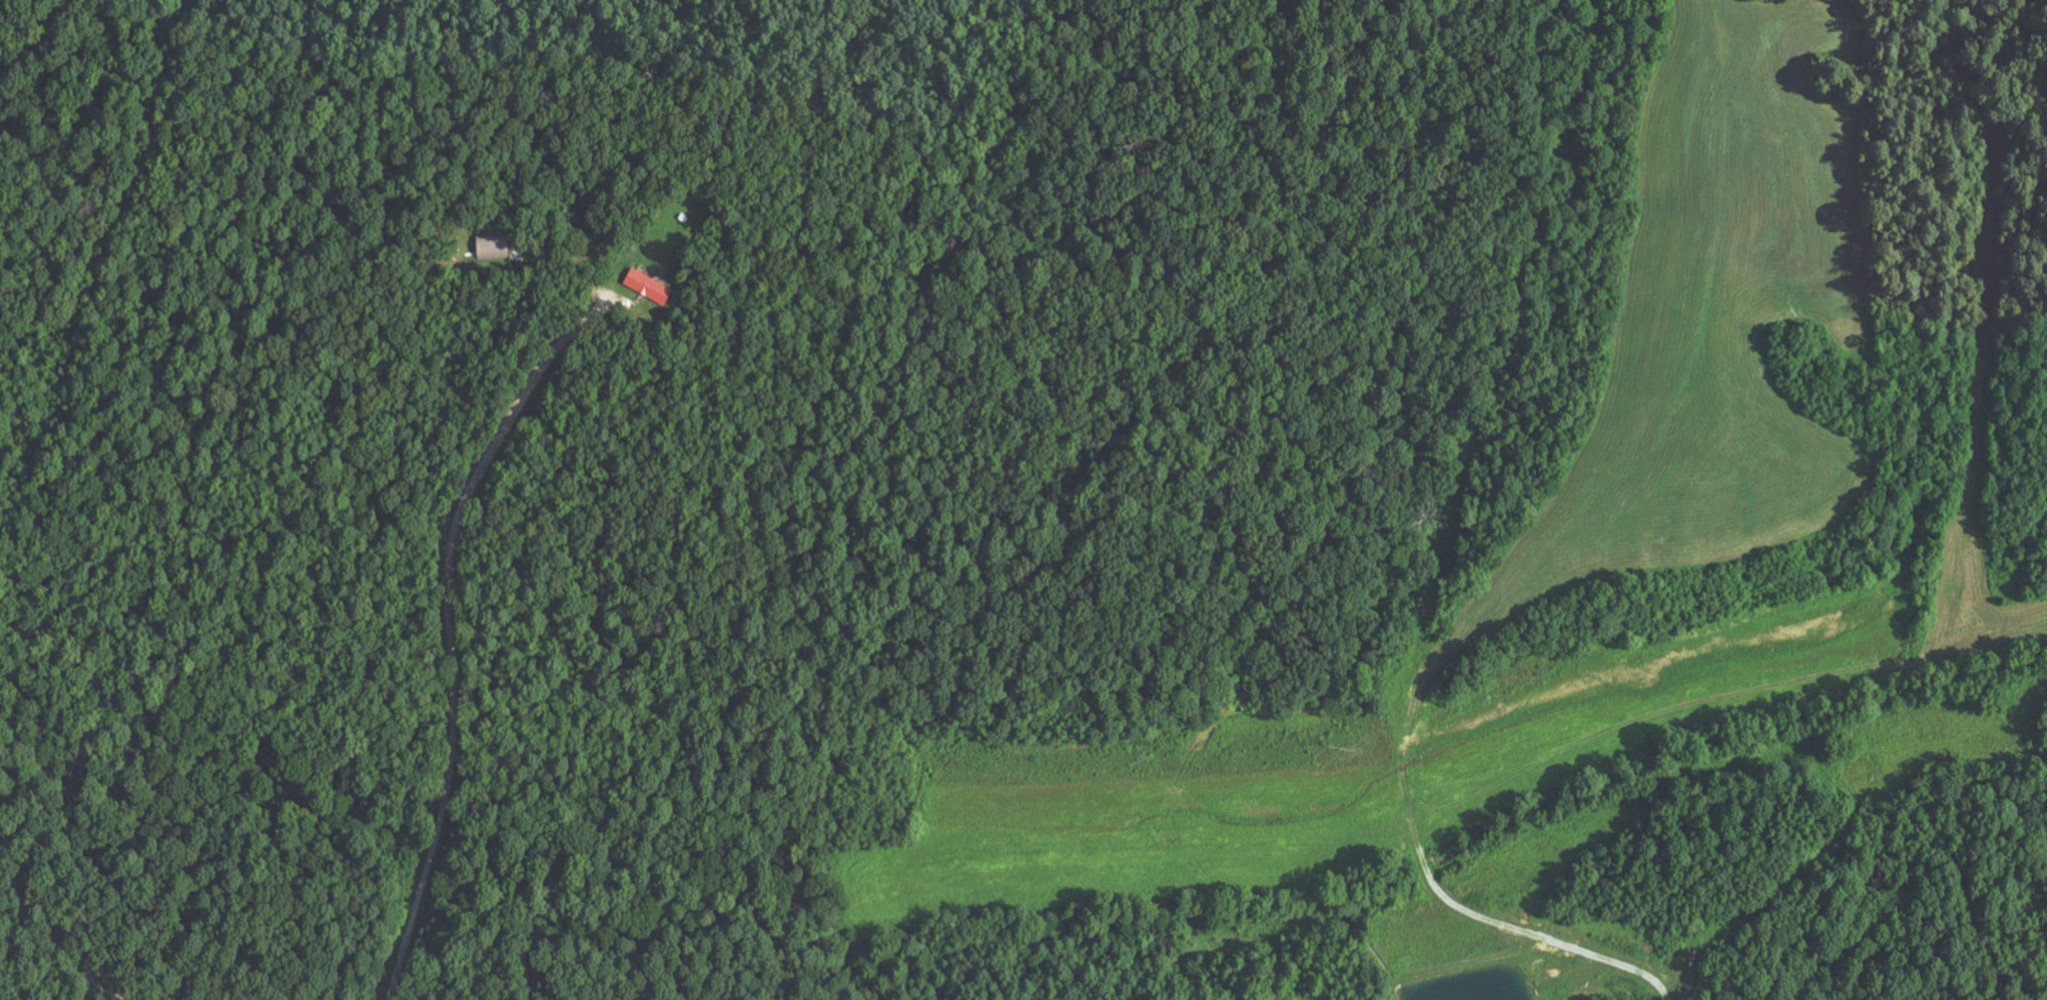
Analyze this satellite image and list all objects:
building: (650, 286)
road: (988, 630)

